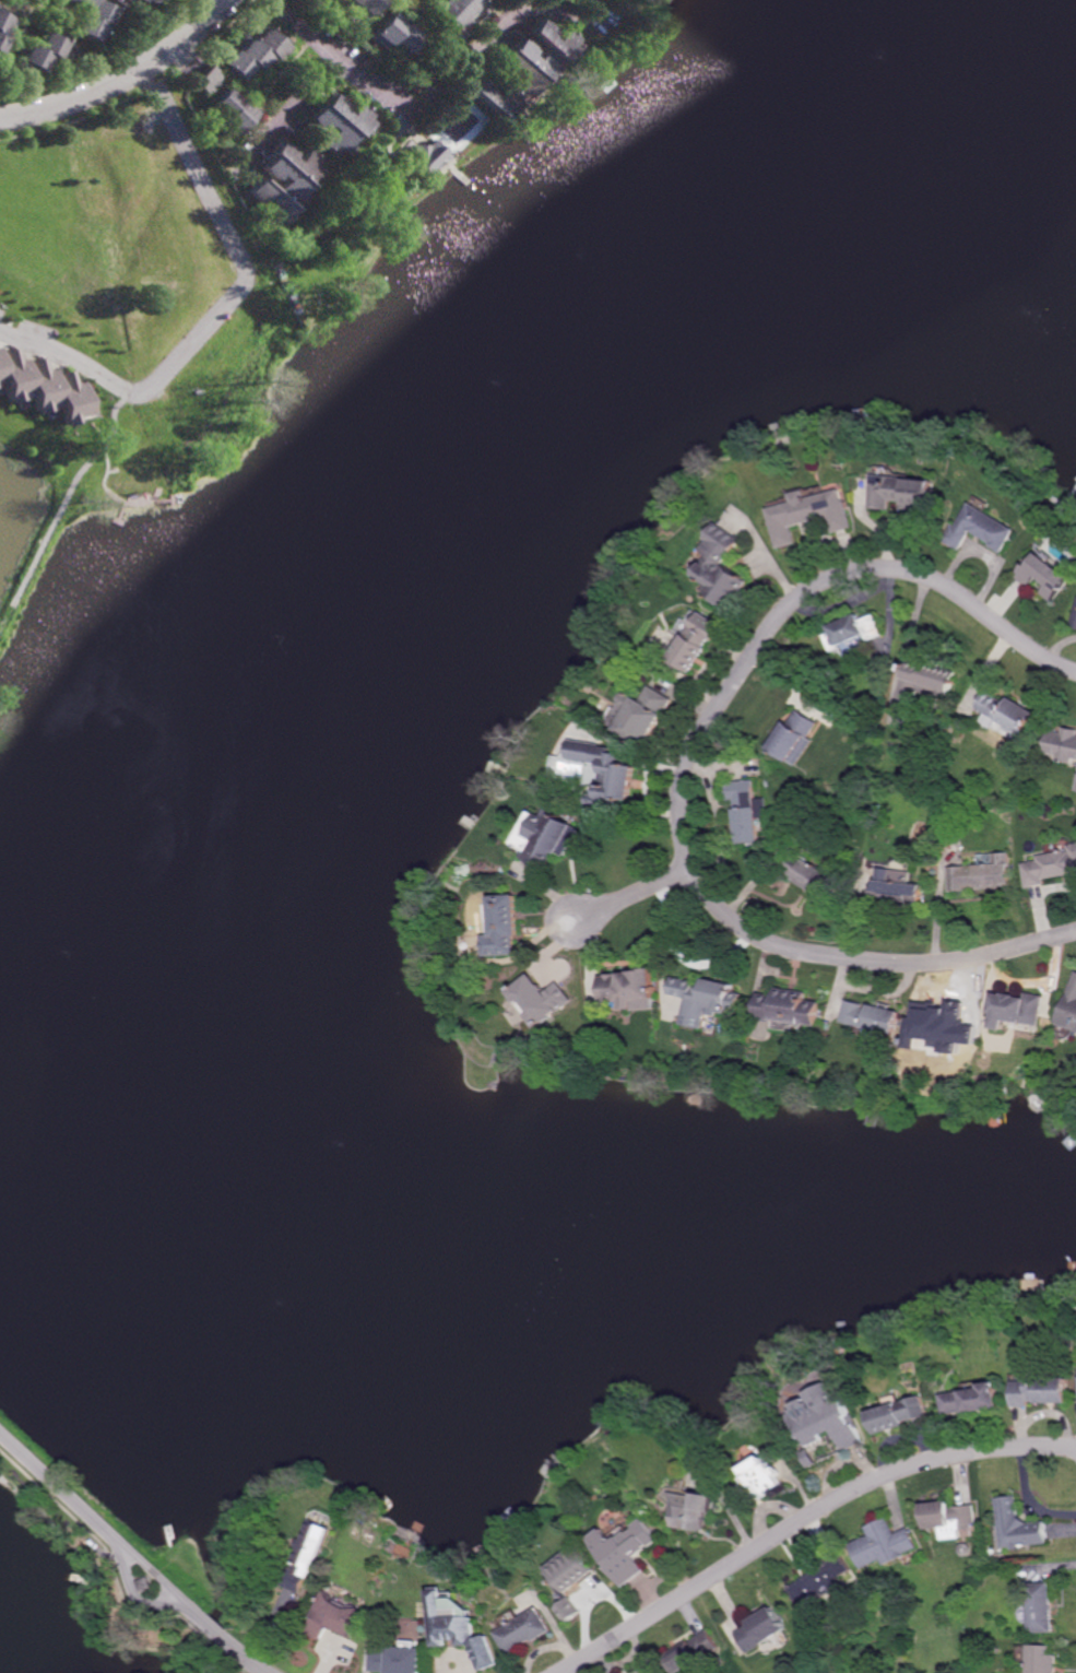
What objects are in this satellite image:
building: (66, 1)
building: (127, 1)
building: (639, 2)
building: (144, 3)
building: (362, 7)
building: (454, 13)
building: (93, 21)
building: (3, 30)
building: (393, 35)
road: (494, 42)
building: (42, 52)
building: (255, 52)
road: (335, 59)
building: (522, 68)
road: (122, 78)
building: (204, 78)
road: (293, 108)
building: (229, 111)
building: (338, 122)
building: (422, 156)
road: (193, 165)
building: (281, 181)
building: (42, 386)
road: (144, 387)
building: (902, 494)
road: (64, 498)
building: (812, 515)
building: (981, 530)
building: (724, 568)
building: (1045, 577)
building: (1075, 625)
building: (853, 633)
building: (698, 644)
building: (853, 645)
building: (926, 683)
building: (1007, 716)
building: (643, 717)
building: (797, 740)
building: (1063, 746)
road: (684, 769)
building: (607, 776)
building: (1075, 788)
building: (748, 810)
building: (551, 838)
building: (1050, 867)
building: (981, 873)
building: (816, 875)
building: (898, 893)
road: (631, 895)
building: (504, 924)
road: (683, 957)
building: (632, 987)
building: (710, 992)
building: (541, 998)
building: (790, 1006)
building: (1015, 1009)
building: (1069, 1009)
building: (872, 1016)
building: (932, 1030)
building: (1042, 1392)
building: (972, 1402)
building: (897, 1416)
building: (827, 1418)
building: (760, 1482)
road: (61, 1487)
road: (1030, 1498)
building: (693, 1512)
road: (803, 1518)
building: (950, 1521)
building: (1019, 1528)
building: (883, 1545)
building: (309, 1554)
building: (627, 1554)
road: (157, 1574)
building: (568, 1580)
building: (819, 1581)
building: (147, 1583)
road: (139, 1595)
building: (1041, 1607)
building: (334, 1613)
building: (461, 1627)
building: (766, 1627)
building: (523, 1628)
road: (226, 1641)
building: (691, 1650)
building: (400, 1658)
building: (1042, 1658)
building: (187, 1669)
building: (645, 1671)

